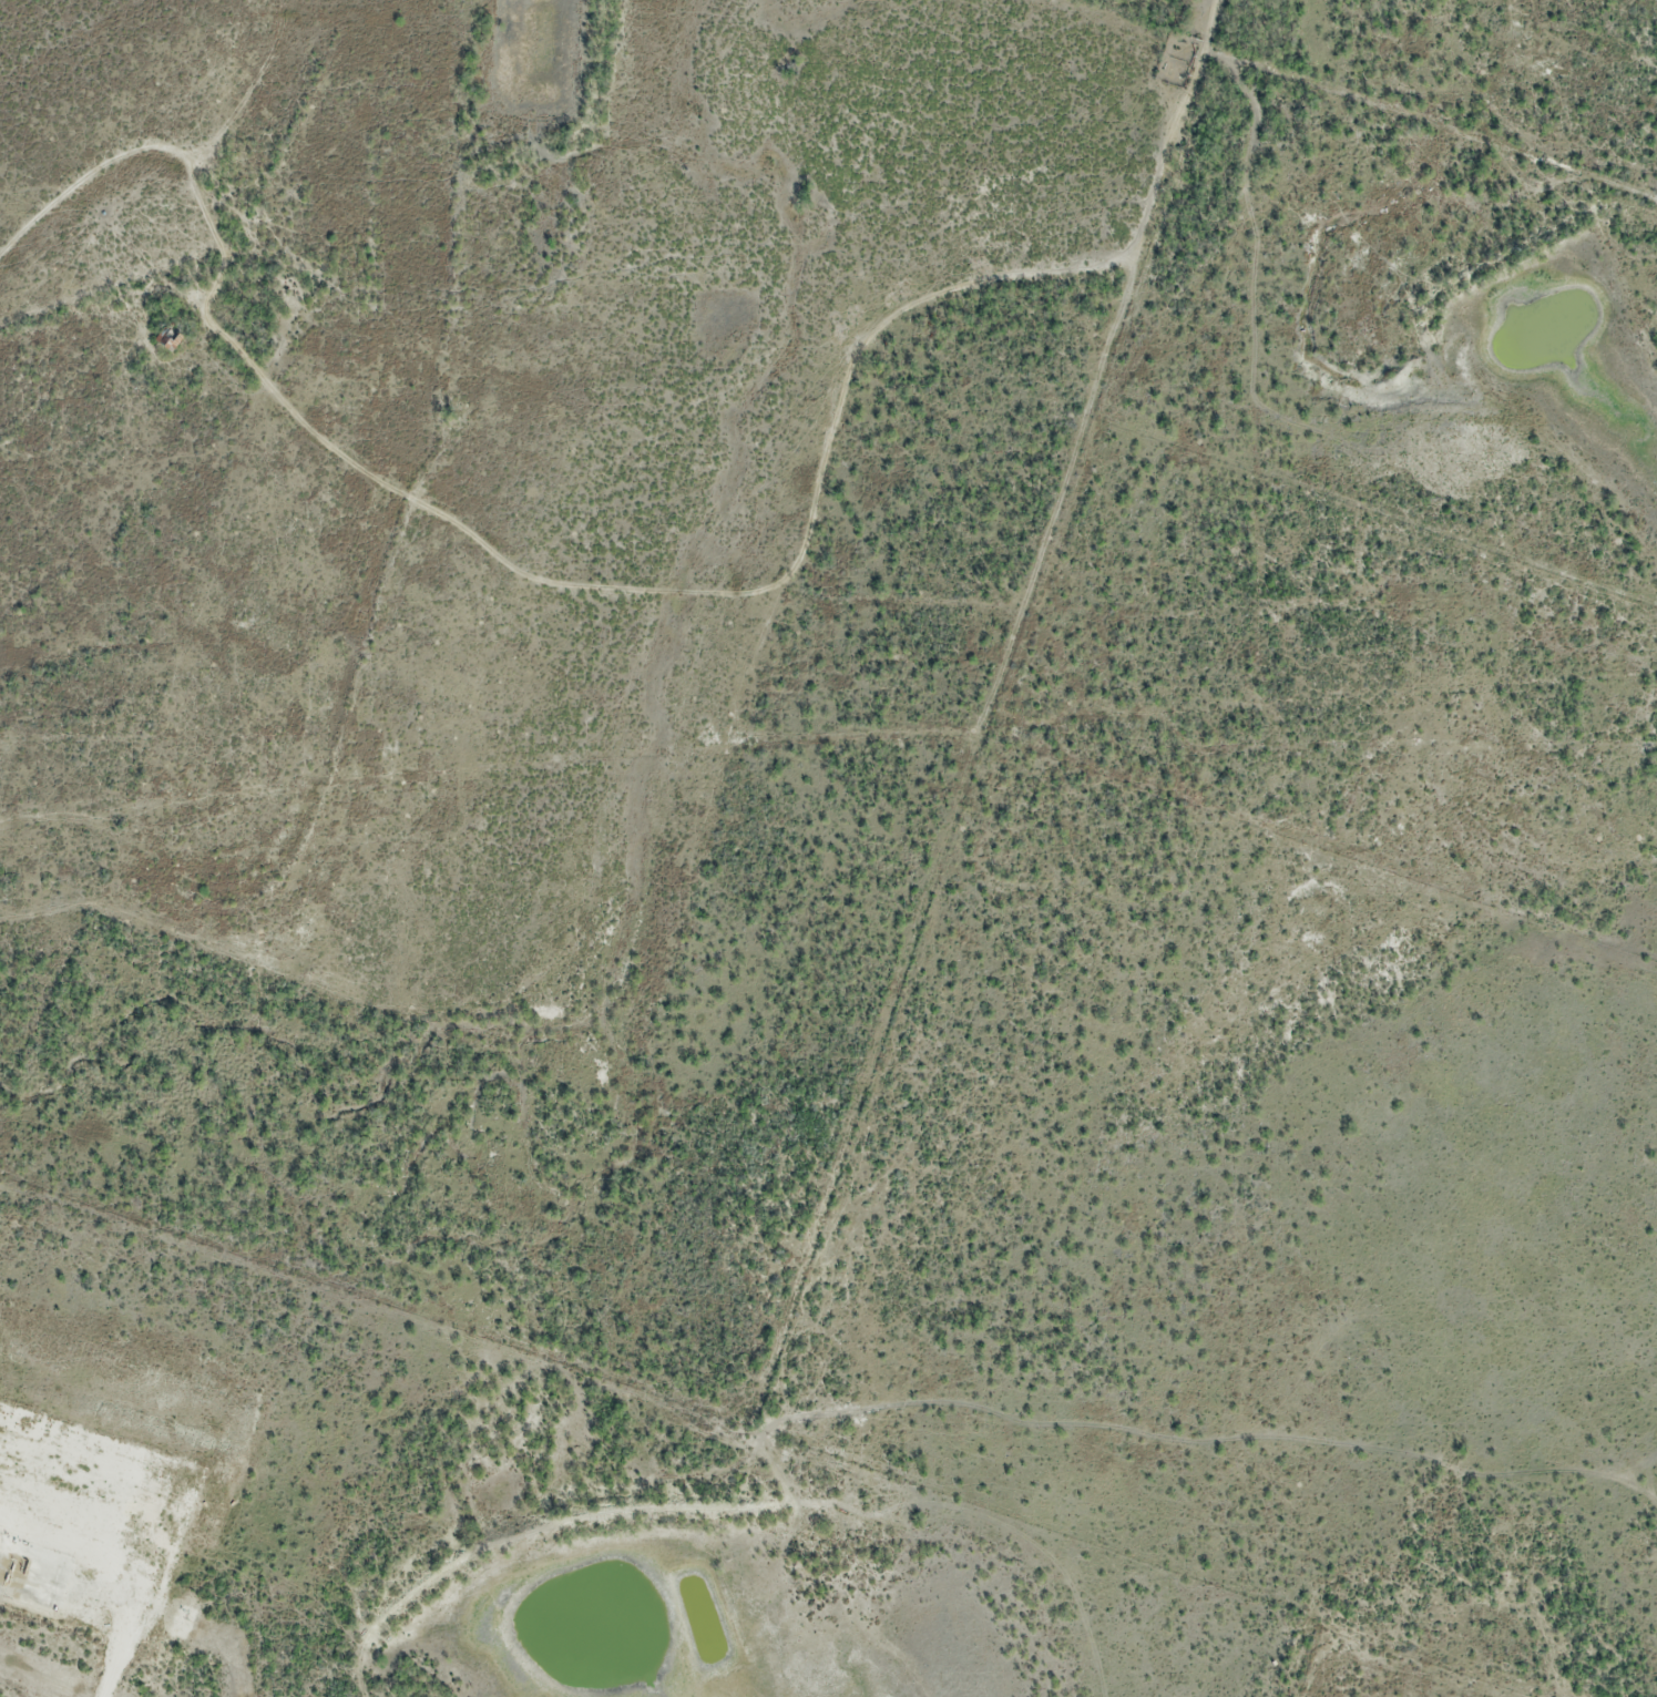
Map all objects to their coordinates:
building: (167, 339)
road: (653, 589)

